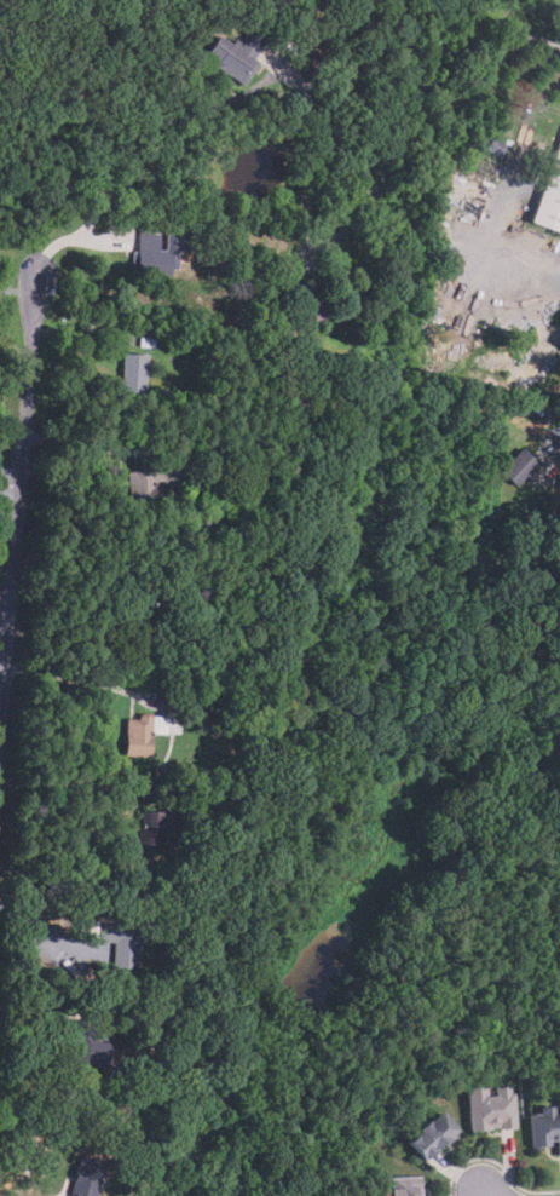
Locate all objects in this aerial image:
building: (238, 53)
building: (321, 61)
building: (328, 79)
road: (421, 133)
building: (497, 144)
road: (155, 167)
building: (550, 197)
building: (160, 252)
building: (275, 260)
building: (221, 269)
building: (317, 298)
building: (260, 329)
building: (146, 341)
building: (133, 372)
road: (559, 424)
building: (521, 465)
building: (217, 468)
road: (10, 472)
building: (154, 483)
road: (17, 507)
building: (179, 573)
road: (5, 608)
building: (144, 632)
road: (77, 636)
road: (71, 677)
building: (208, 682)
building: (178, 703)
river: (521, 717)
river: (391, 729)
building: (144, 732)
river: (412, 743)
building: (158, 770)
building: (151, 827)
building: (225, 830)
river: (354, 889)
building: (181, 903)
road: (48, 928)
building: (123, 942)
building: (52, 945)
building: (128, 1017)
building: (90, 1045)
building: (487, 1106)
building: (543, 1127)
building: (427, 1135)
building: (119, 1166)
building: (88, 1175)
building: (403, 1185)
road: (473, 1191)
road: (486, 1191)

